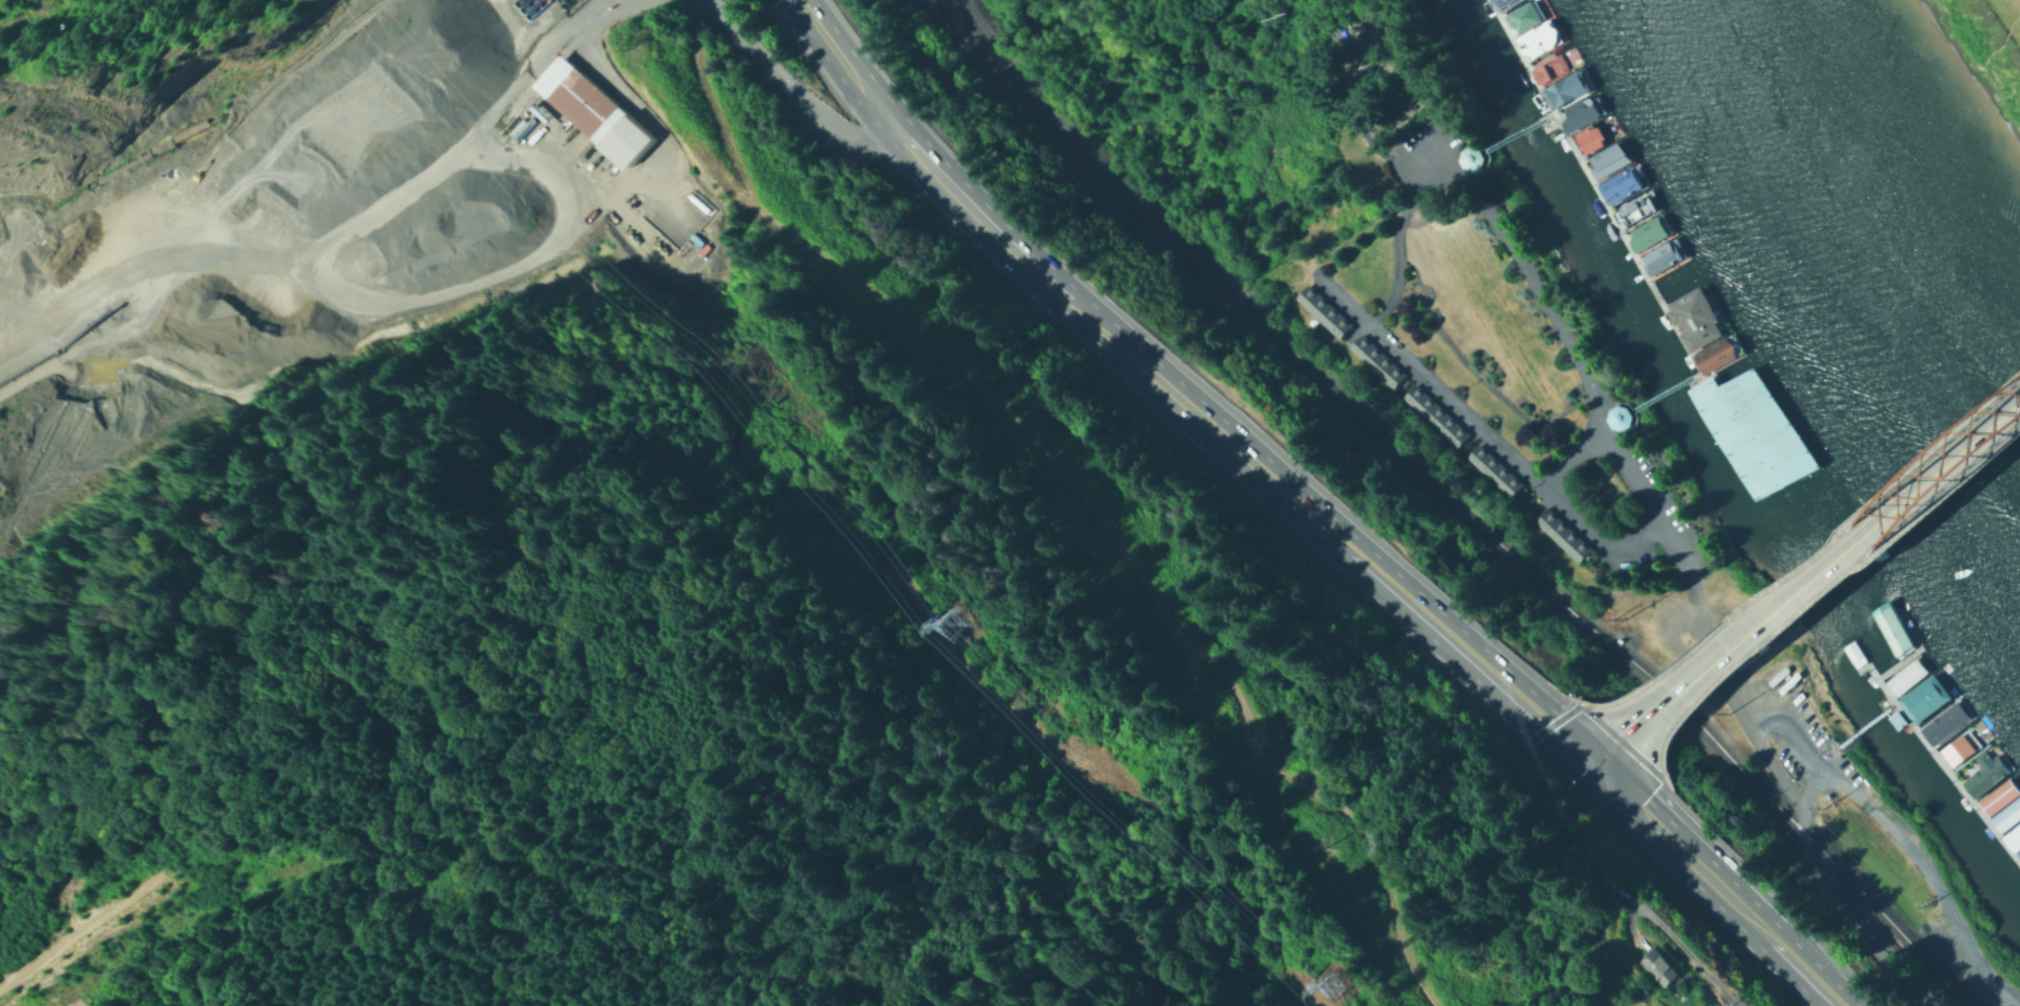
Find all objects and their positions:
building: (1499, 2)
building: (1521, 12)
parking lot: (546, 14)
building: (1536, 34)
road: (579, 35)
road: (555, 44)
parking lot: (589, 62)
building: (1552, 62)
road: (543, 74)
building: (1564, 84)
road: (792, 87)
railway: (1011, 91)
building: (1577, 108)
building: (540, 110)
storage tank: (540, 110)
building: (595, 110)
building: (517, 124)
storage tank: (517, 124)
building: (1592, 131)
pier: (1519, 134)
road: (818, 137)
road: (484, 139)
road: (1439, 141)
parking lot: (549, 144)
building: (1605, 154)
parking lot: (1432, 155)
building: (1475, 156)
parking lot: (651, 160)
building: (1617, 180)
road: (659, 185)
quarry: (367, 191)
road: (264, 193)
building: (1631, 205)
parking lot: (687, 207)
pier: (1609, 218)
river: (1875, 227)
building: (1645, 228)
parking lot: (552, 236)
road: (1399, 244)
building: (1659, 253)
road: (137, 260)
building: (232, 268)
road: (454, 278)
road: (1050, 282)
building: (1671, 286)
building: (1327, 309)
building: (1692, 313)
building: (63, 348)
building: (1712, 350)
building: (1379, 360)
building: (1438, 414)
building: (1624, 415)
building: (1744, 427)
road: (1485, 430)
pier: (1730, 430)
road: (1571, 460)
building: (1497, 470)
road: (1631, 470)
road: (1077, 490)
railway: (1459, 506)
parking lot: (1659, 506)
road: (1870, 521)
building: (1567, 535)
road: (1807, 555)
road: (1382, 582)
road: (1815, 589)
power tower: (944, 623)
building: (1886, 630)
building: (1865, 643)
building: (1914, 689)
road: (1667, 695)
road: (1510, 696)
road: (1560, 718)
pier: (1865, 724)
road: (1789, 732)
parking lot: (1802, 735)
road: (1618, 746)
building: (1957, 750)
road: (1599, 754)
pier: (1938, 762)
traffic signals: (1585, 766)
building: (1998, 803)
road: (1922, 859)
road: (319, 861)
road: (1712, 885)
road: (1855, 915)
parking lot: (1970, 954)
road: (1687, 959)
building: (1664, 967)
power tower: (1327, 985)

